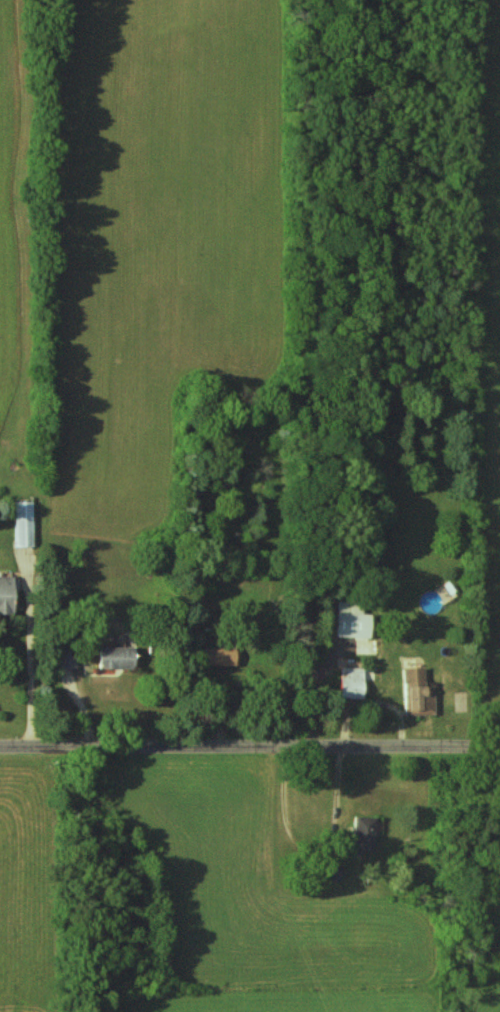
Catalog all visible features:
building: (25, 524)
building: (7, 595)
building: (353, 621)
building: (220, 656)
building: (117, 657)
building: (68, 659)
building: (352, 683)
building: (419, 693)
road: (250, 748)
building: (363, 834)
building: (332, 872)

